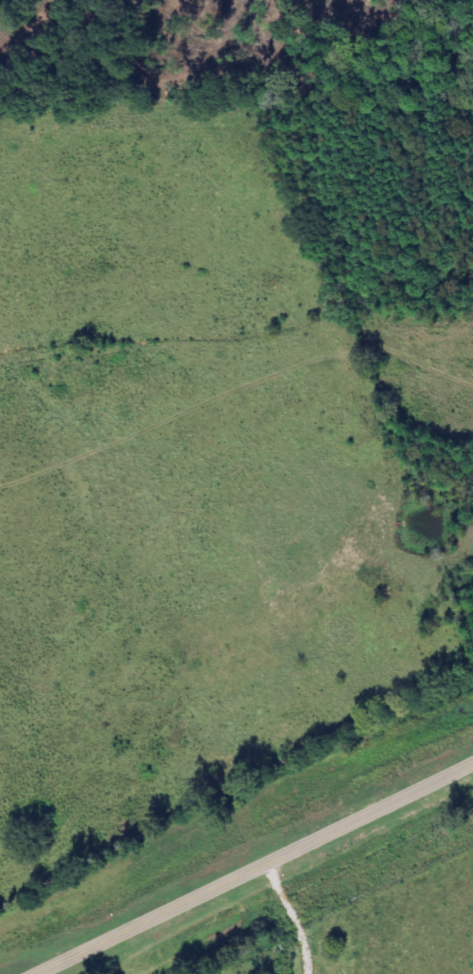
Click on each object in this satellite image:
road: (253, 868)

